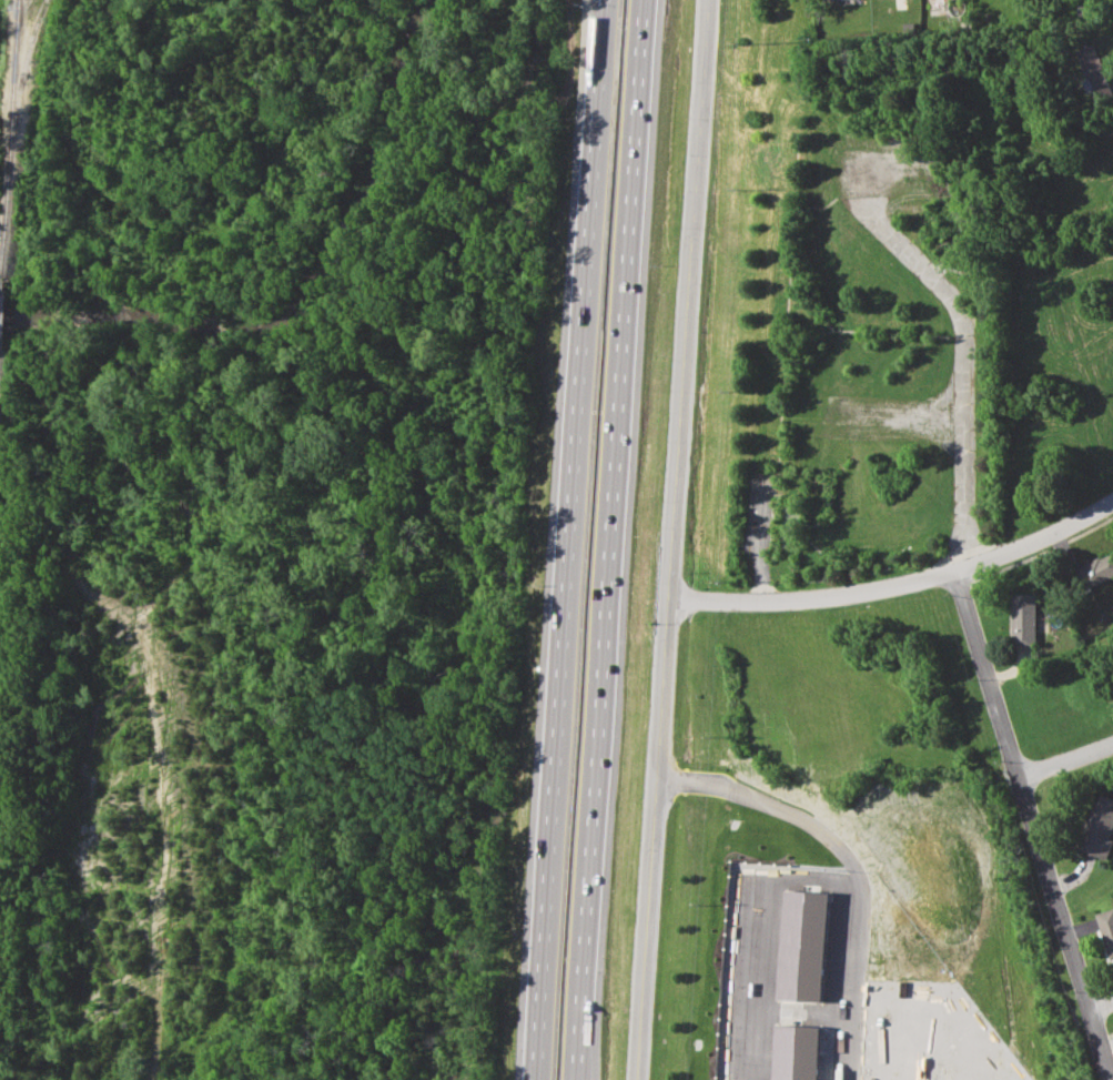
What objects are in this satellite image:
building: (1093, 71)
railway: (9, 139)
road: (565, 539)
road: (601, 539)
road: (665, 539)
building: (1093, 571)
road: (894, 588)
building: (1023, 618)
river: (476, 629)
road: (1064, 758)
building: (1097, 826)
road: (1031, 828)
road: (748, 891)
building: (1106, 929)
building: (805, 993)
road: (1100, 1005)
street lamp: (604, 1015)

